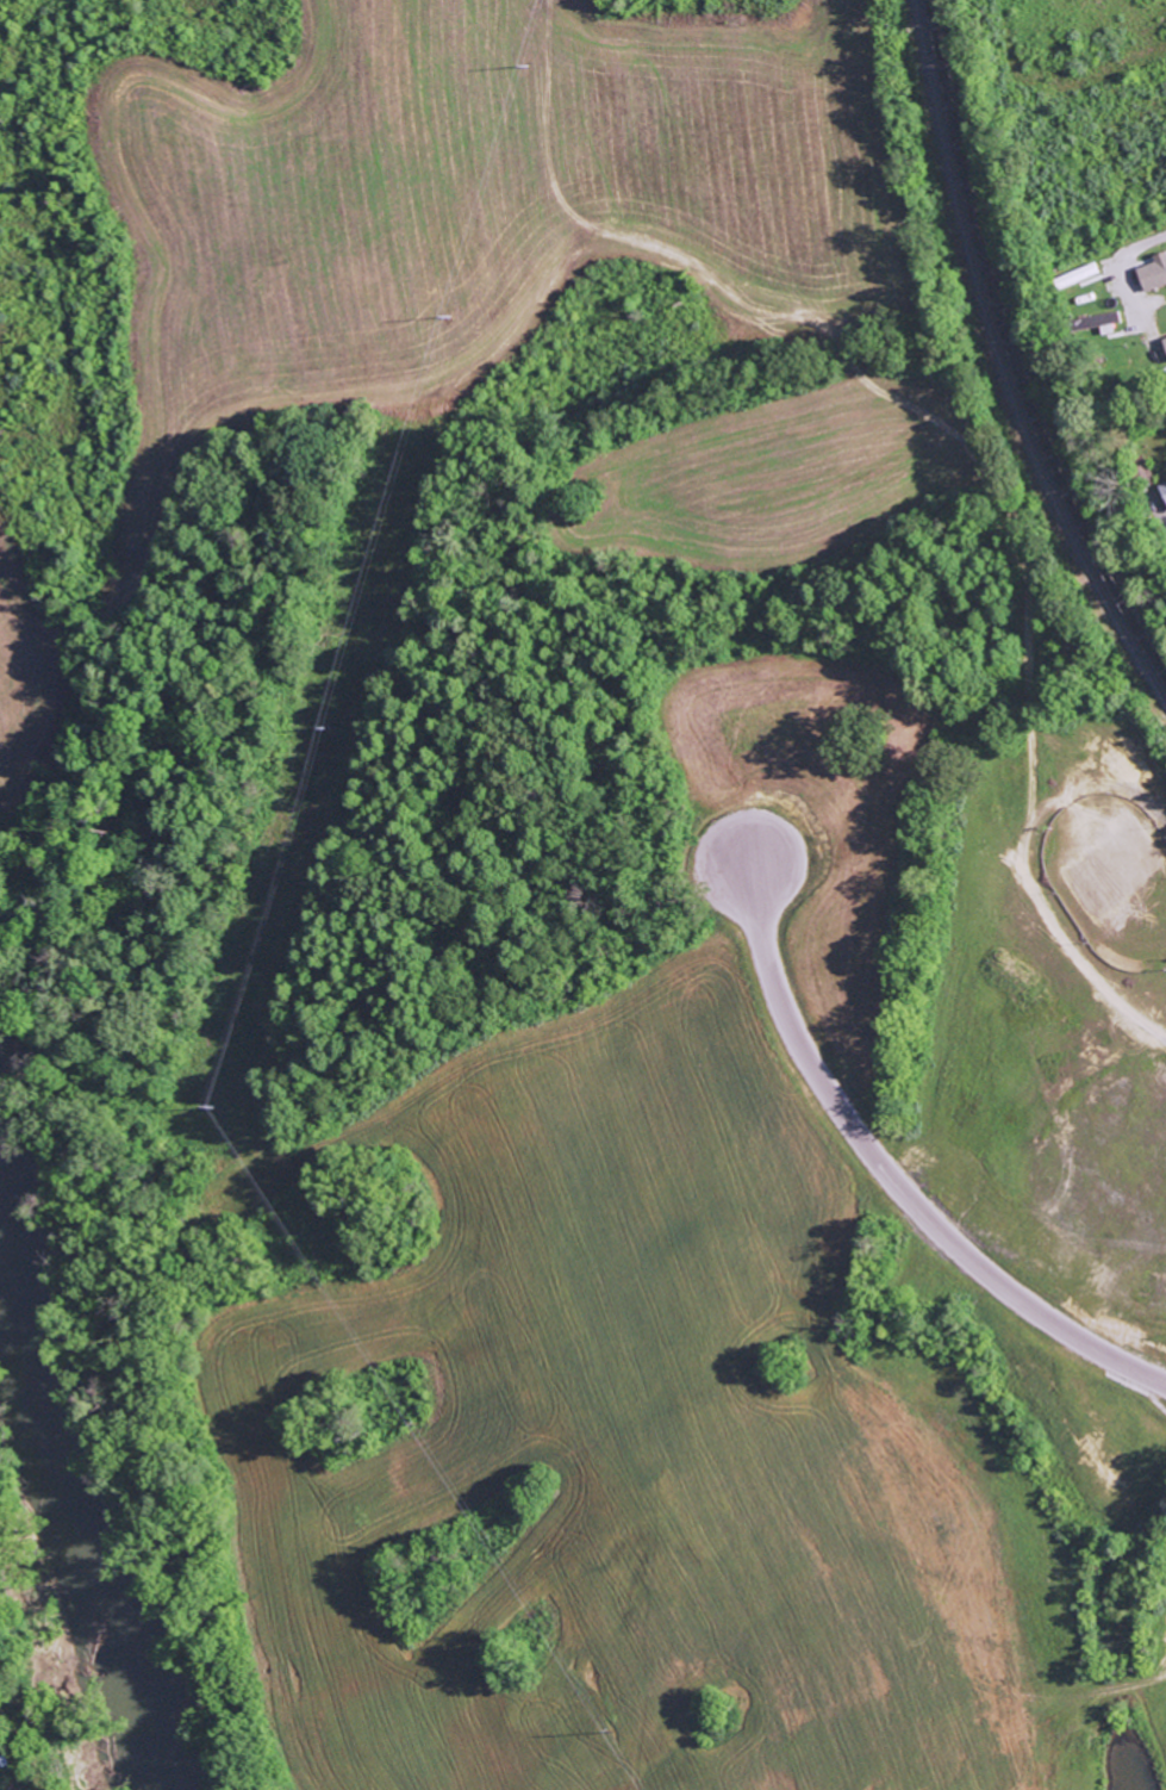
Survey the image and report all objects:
building: (1151, 271)
road: (1122, 274)
building: (1090, 321)
building: (1162, 346)
railway: (1002, 363)
building: (1161, 491)
road: (886, 1177)
river: (74, 1545)

